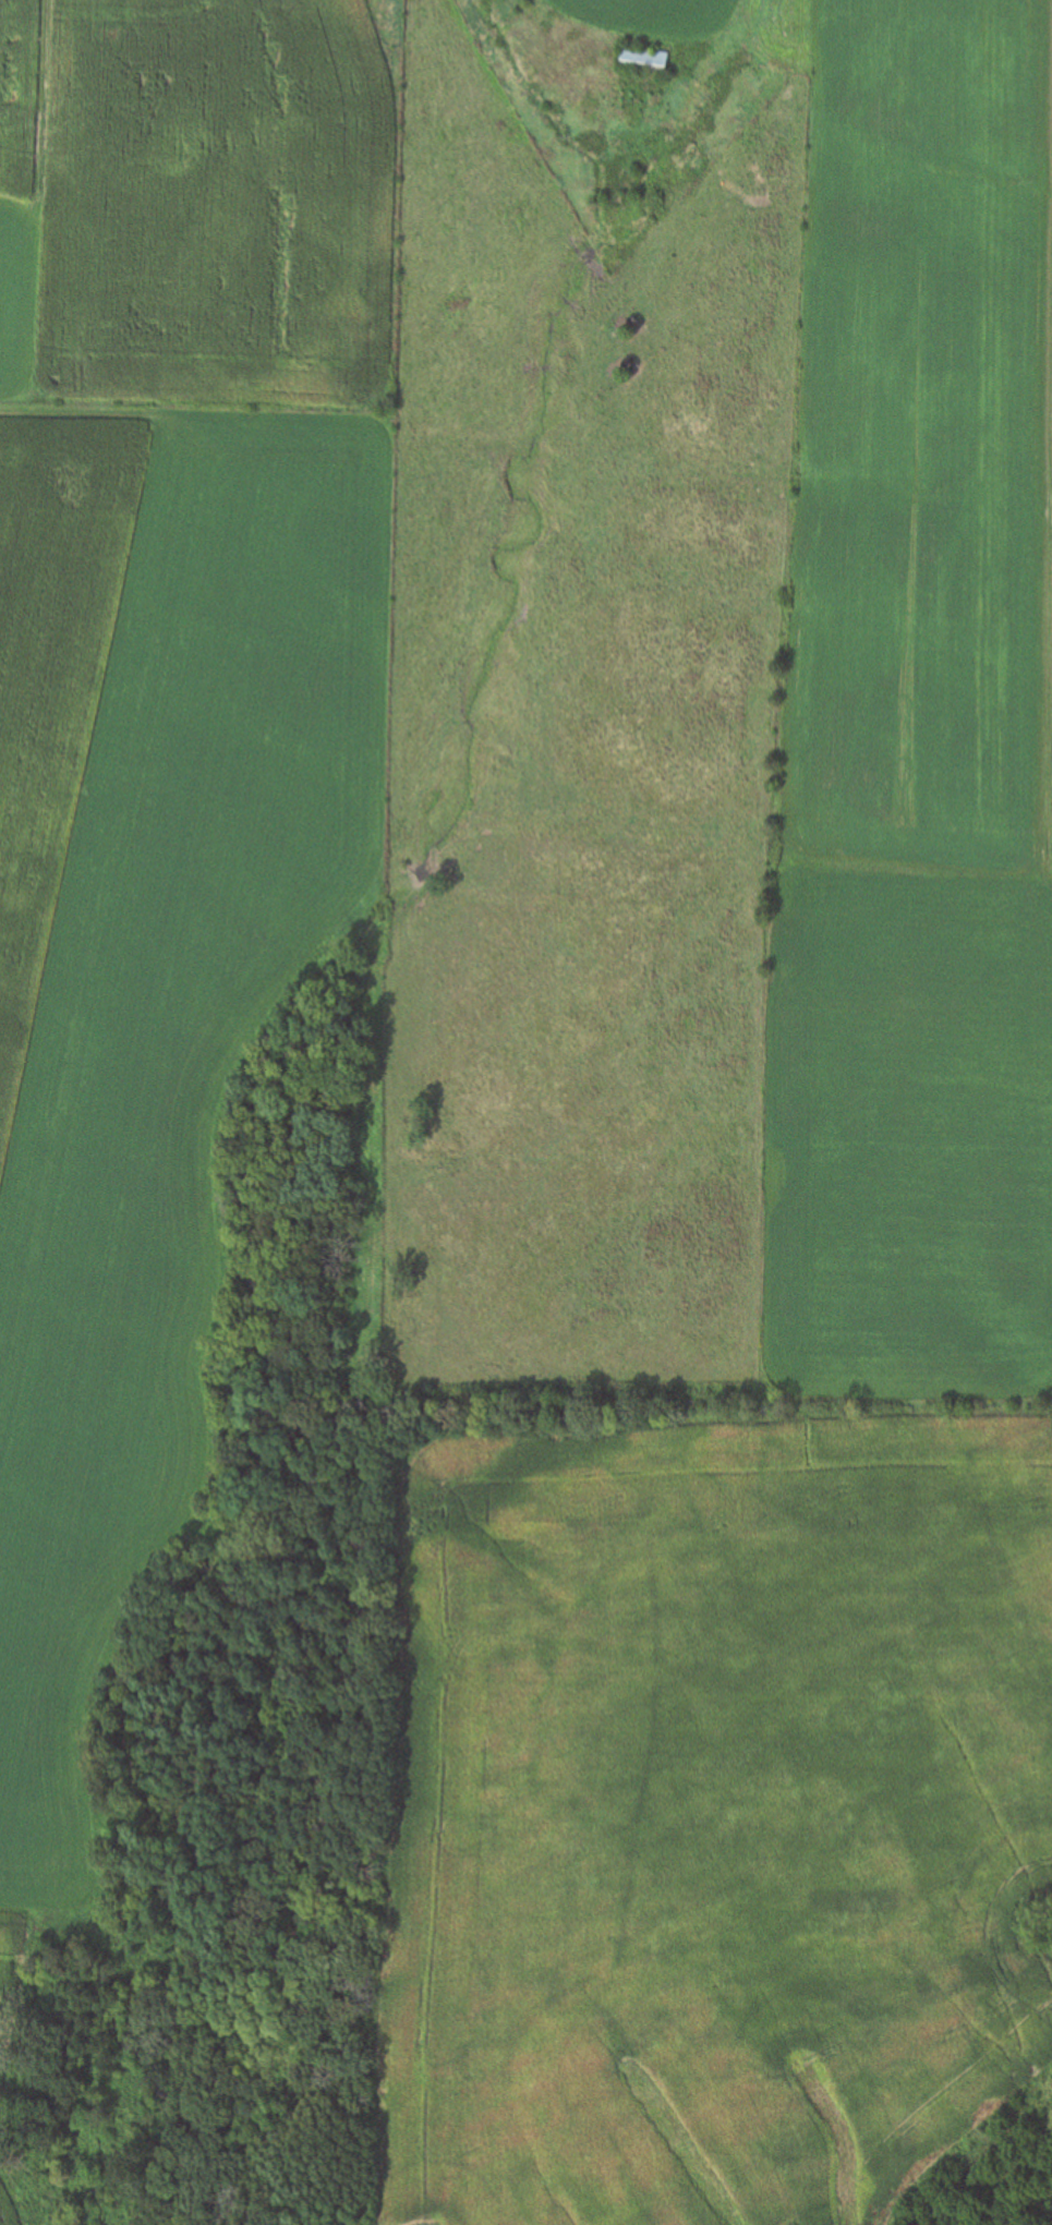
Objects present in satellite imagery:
building: (645, 60)

